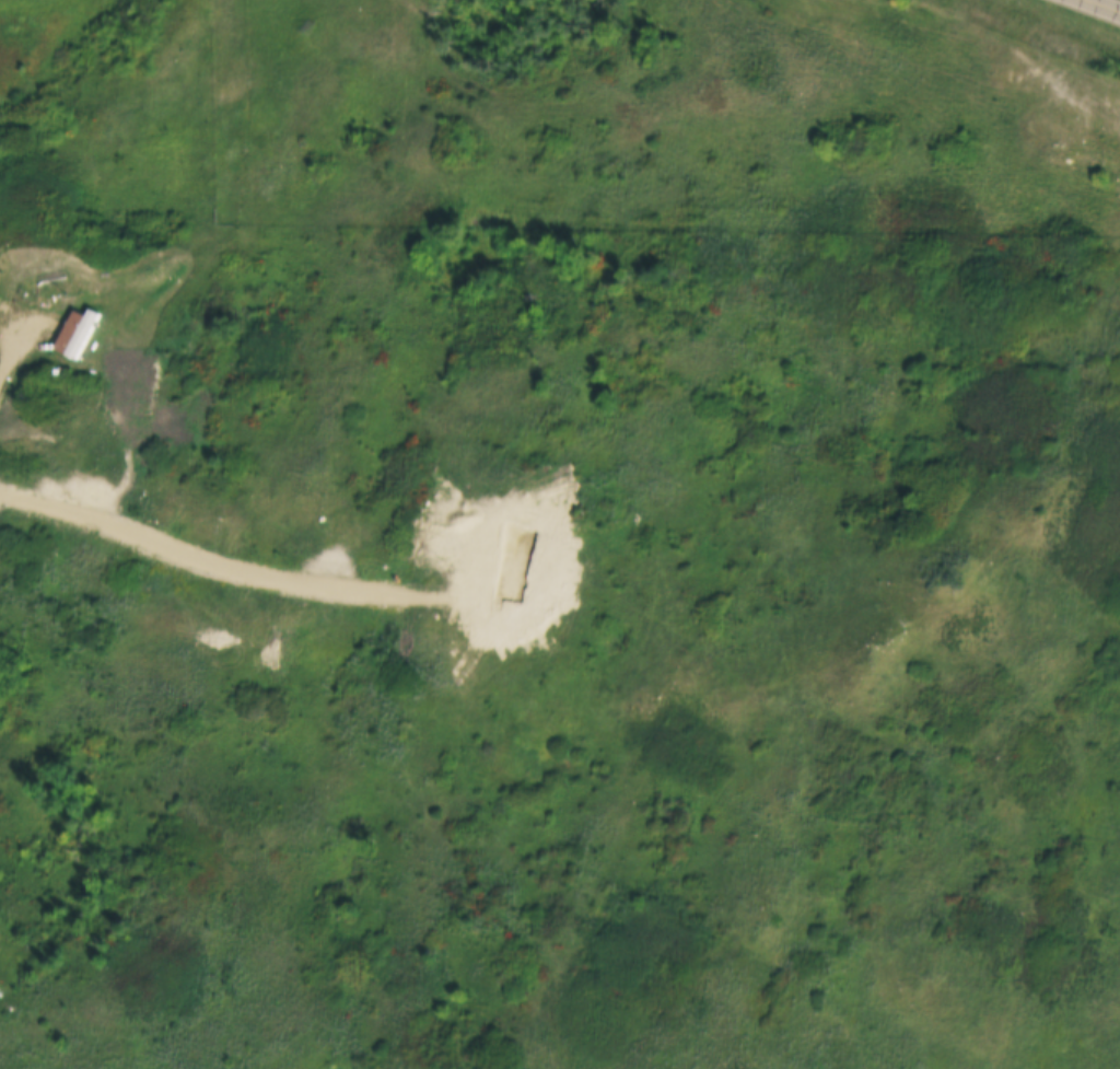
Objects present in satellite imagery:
road: (1107, 4)
building: (82, 333)
road: (19, 350)

